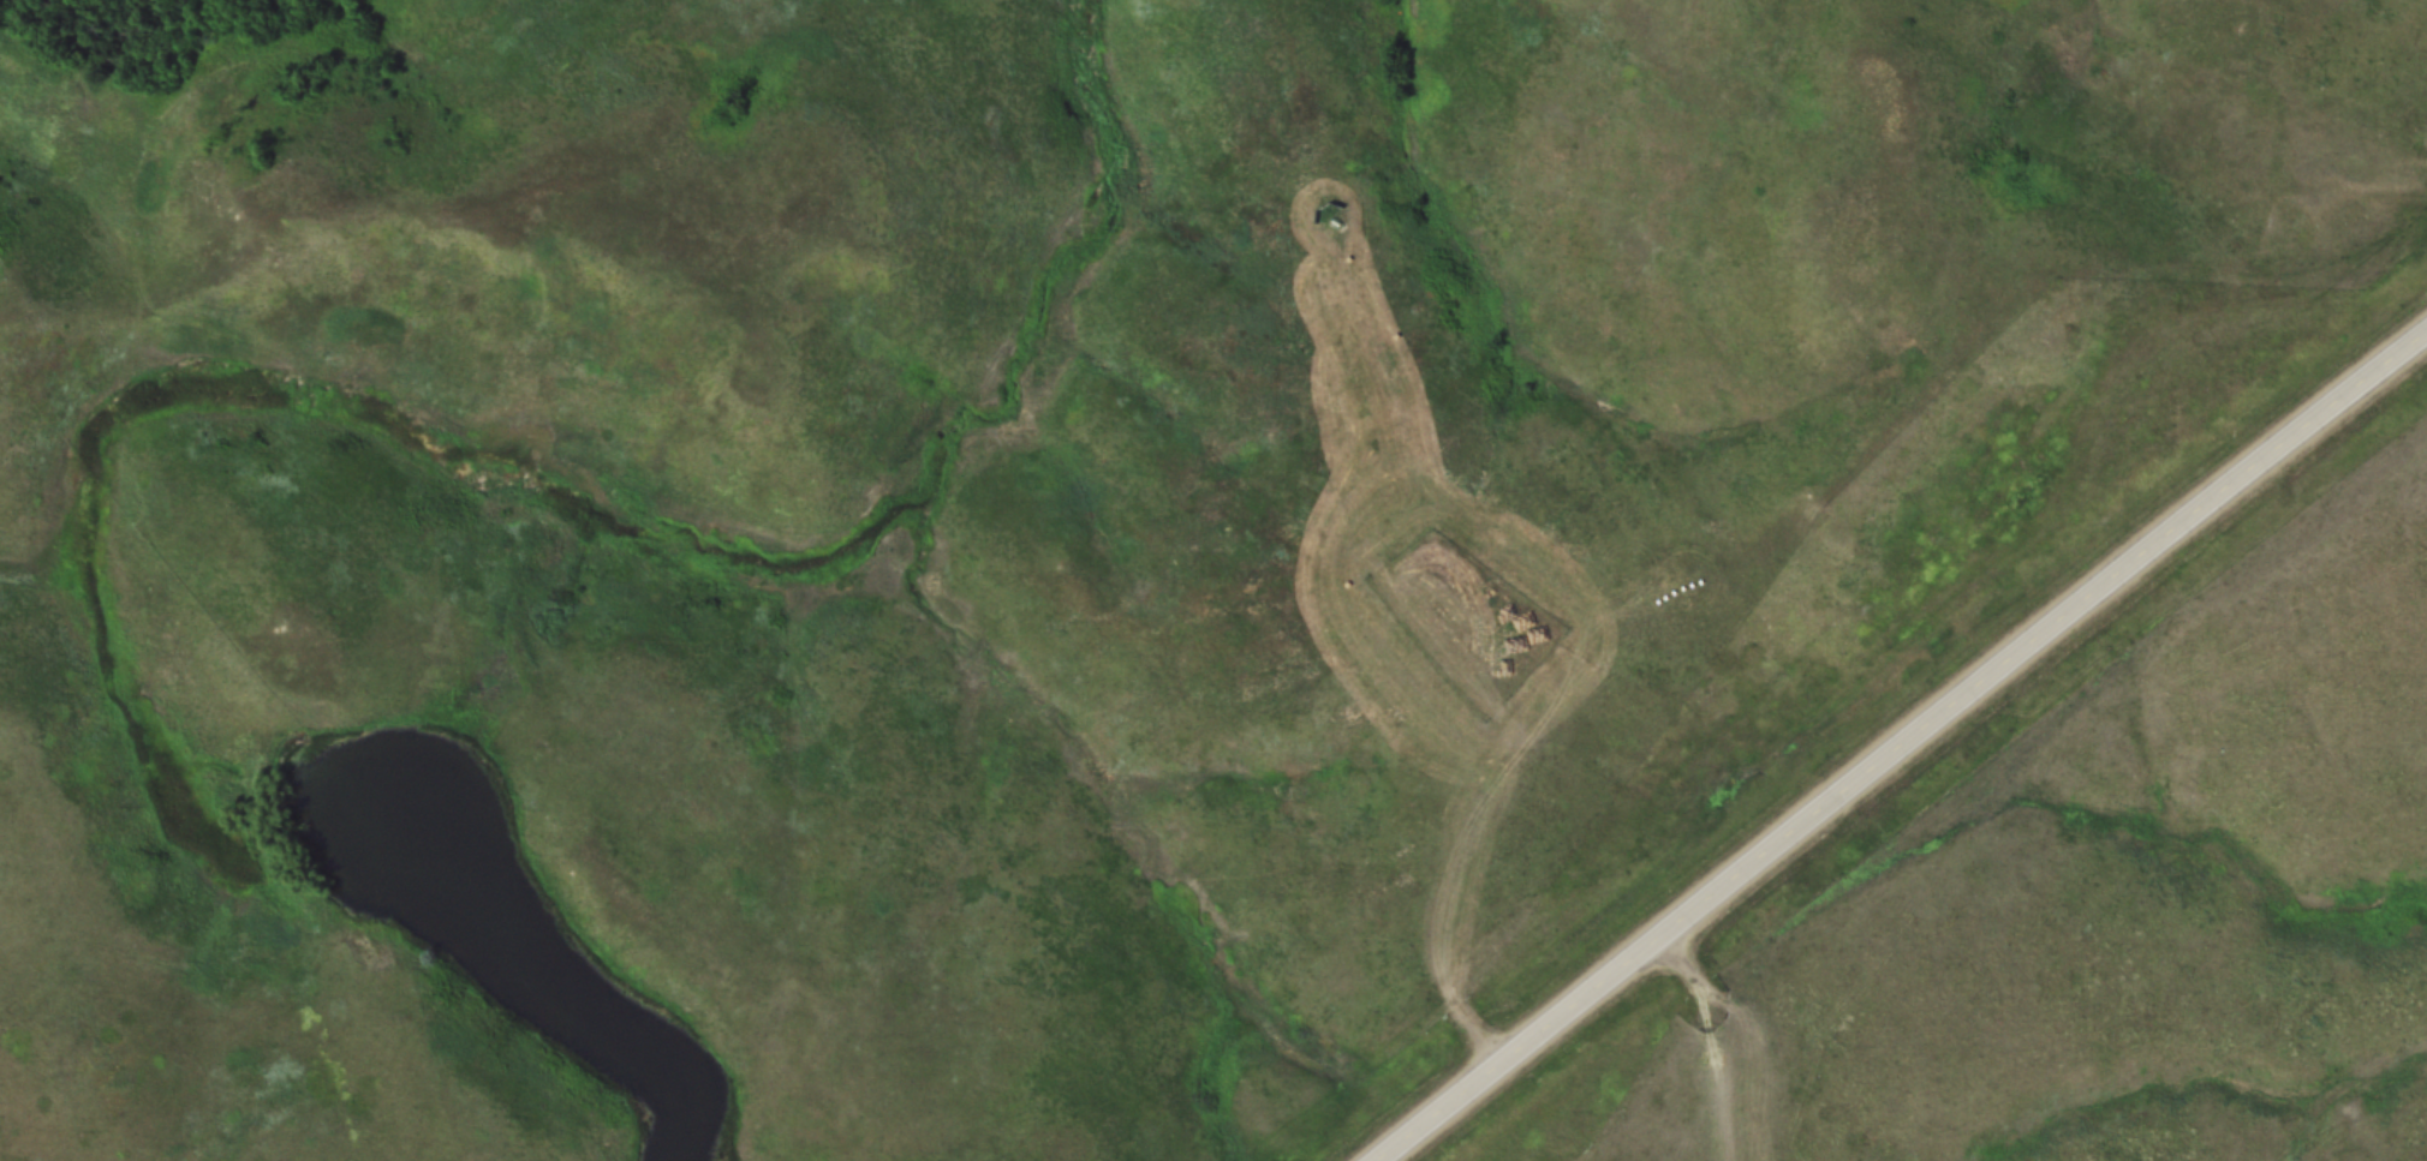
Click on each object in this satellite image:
road: (1897, 743)

